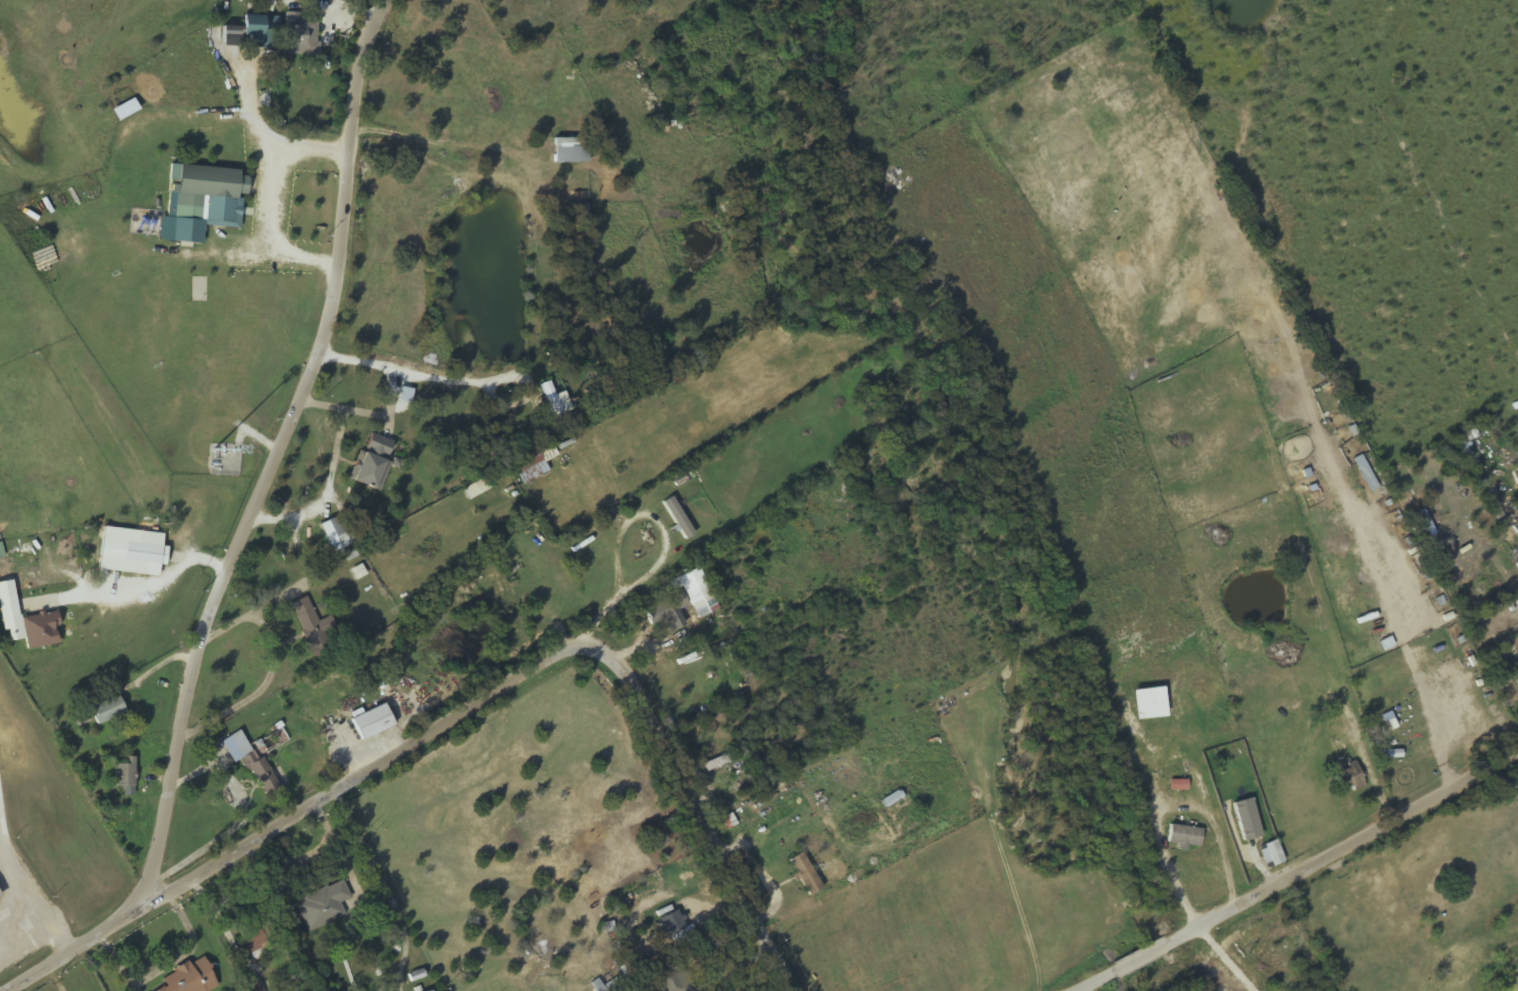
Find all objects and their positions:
building: (259, 26)
building: (305, 37)
building: (570, 149)
building: (207, 186)
building: (581, 210)
building: (550, 399)
road: (282, 450)
building: (373, 462)
building: (532, 464)
road: (1144, 475)
building: (331, 530)
building: (585, 541)
building: (1, 551)
building: (133, 551)
building: (701, 600)
building: (8, 607)
building: (309, 623)
building: (1509, 645)
building: (1326, 698)
road: (473, 705)
building: (107, 710)
building: (371, 722)
building: (893, 733)
building: (725, 759)
building: (253, 763)
building: (124, 773)
building: (1348, 778)
building: (891, 799)
building: (1181, 812)
building: (955, 822)
building: (1184, 835)
building: (1273, 853)
building: (804, 874)
road: (1305, 876)
building: (322, 906)
building: (671, 923)
building: (252, 938)
building: (190, 978)

